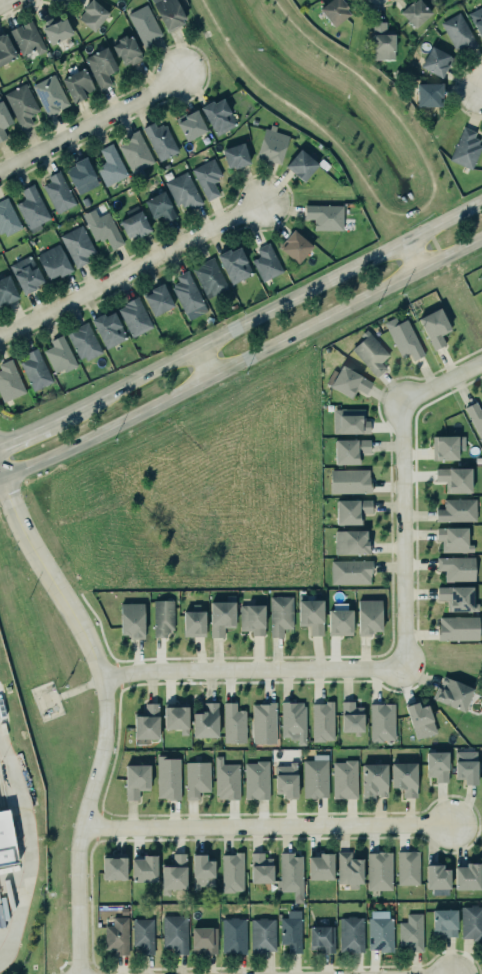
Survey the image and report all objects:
road: (6, 3)
building: (336, 11)
building: (416, 12)
building: (169, 13)
road: (208, 13)
road: (282, 13)
building: (93, 14)
building: (477, 19)
building: (144, 25)
building: (55, 28)
building: (457, 31)
building: (27, 38)
building: (382, 38)
building: (6, 49)
building: (127, 49)
road: (337, 60)
building: (436, 61)
building: (101, 66)
building: (78, 84)
road: (266, 88)
road: (481, 90)
building: (49, 94)
building: (429, 94)
building: (21, 104)
park: (333, 107)
building: (218, 116)
building: (3, 119)
road: (90, 124)
building: (191, 124)
building: (160, 141)
building: (272, 144)
road: (414, 144)
building: (466, 148)
building: (136, 153)
building: (236, 155)
building: (302, 164)
building: (111, 165)
building: (82, 175)
building: (207, 177)
road: (361, 177)
building: (183, 190)
building: (58, 192)
building: (85, 201)
building: (160, 206)
building: (32, 207)
road: (413, 209)
building: (325, 216)
building: (8, 218)
building: (135, 222)
building: (102, 227)
building: (77, 244)
building: (296, 246)
road: (411, 255)
building: (54, 261)
building: (267, 262)
building: (234, 265)
road: (132, 269)
building: (26, 273)
building: (209, 277)
building: (7, 289)
building: (480, 290)
building: (187, 292)
building: (158, 299)
road: (264, 313)
building: (134, 317)
building: (435, 328)
building: (109, 329)
building: (402, 337)
building: (84, 341)
building: (370, 353)
building: (59, 355)
road: (242, 361)
road: (200, 365)
building: (36, 369)
building: (9, 381)
building: (349, 382)
building: (474, 416)
building: (350, 421)
road: (23, 433)
building: (447, 447)
building: (350, 451)
building: (348, 479)
building: (455, 479)
building: (457, 510)
building: (352, 511)
building: (454, 540)
building: (349, 541)
building: (457, 568)
building: (349, 571)
building: (456, 598)
building: (279, 614)
building: (309, 615)
building: (368, 616)
building: (221, 617)
building: (163, 619)
building: (252, 619)
building: (340, 619)
building: (132, 620)
building: (192, 623)
building: (458, 628)
road: (406, 646)
road: (480, 652)
road: (480, 653)
road: (452, 655)
road: (73, 691)
building: (451, 693)
building: (350, 716)
road: (103, 717)
building: (176, 718)
building: (381, 719)
building: (292, 720)
building: (420, 720)
building: (204, 721)
building: (322, 721)
building: (147, 722)
building: (262, 722)
building: (232, 723)
building: (435, 763)
building: (464, 765)
building: (194, 777)
building: (315, 777)
building: (168, 778)
building: (404, 778)
building: (343, 779)
building: (136, 780)
building: (226, 780)
building: (256, 780)
building: (285, 780)
building: (372, 780)
road: (265, 829)
building: (5, 841)
road: (27, 851)
building: (112, 866)
building: (377, 866)
building: (319, 867)
building: (143, 868)
building: (261, 868)
building: (408, 868)
building: (230, 869)
building: (349, 870)
building: (202, 872)
building: (172, 874)
building: (289, 874)
building: (467, 876)
building: (437, 879)
building: (443, 922)
building: (471, 922)
building: (291, 931)
building: (349, 931)
building: (380, 931)
building: (411, 932)
building: (173, 933)
building: (115, 935)
building: (143, 935)
building: (233, 935)
building: (262, 935)
building: (321, 939)
building: (204, 940)

